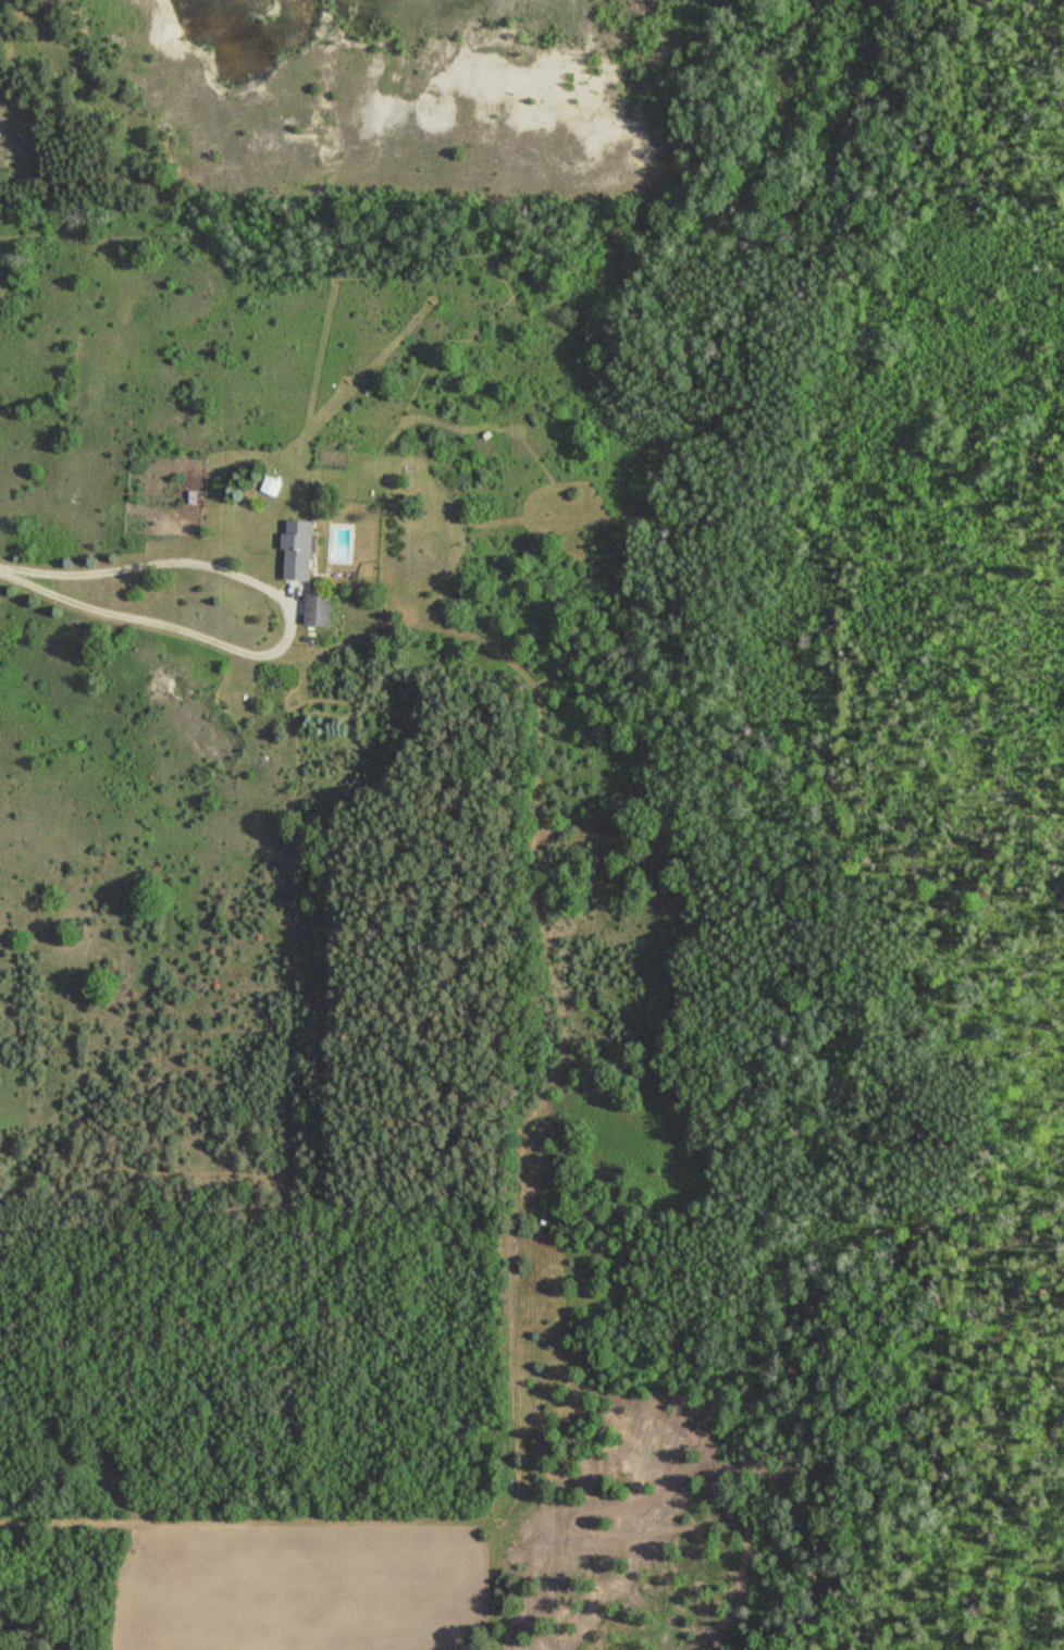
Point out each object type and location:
building: (300, 549)
building: (322, 606)
road: (295, 621)

